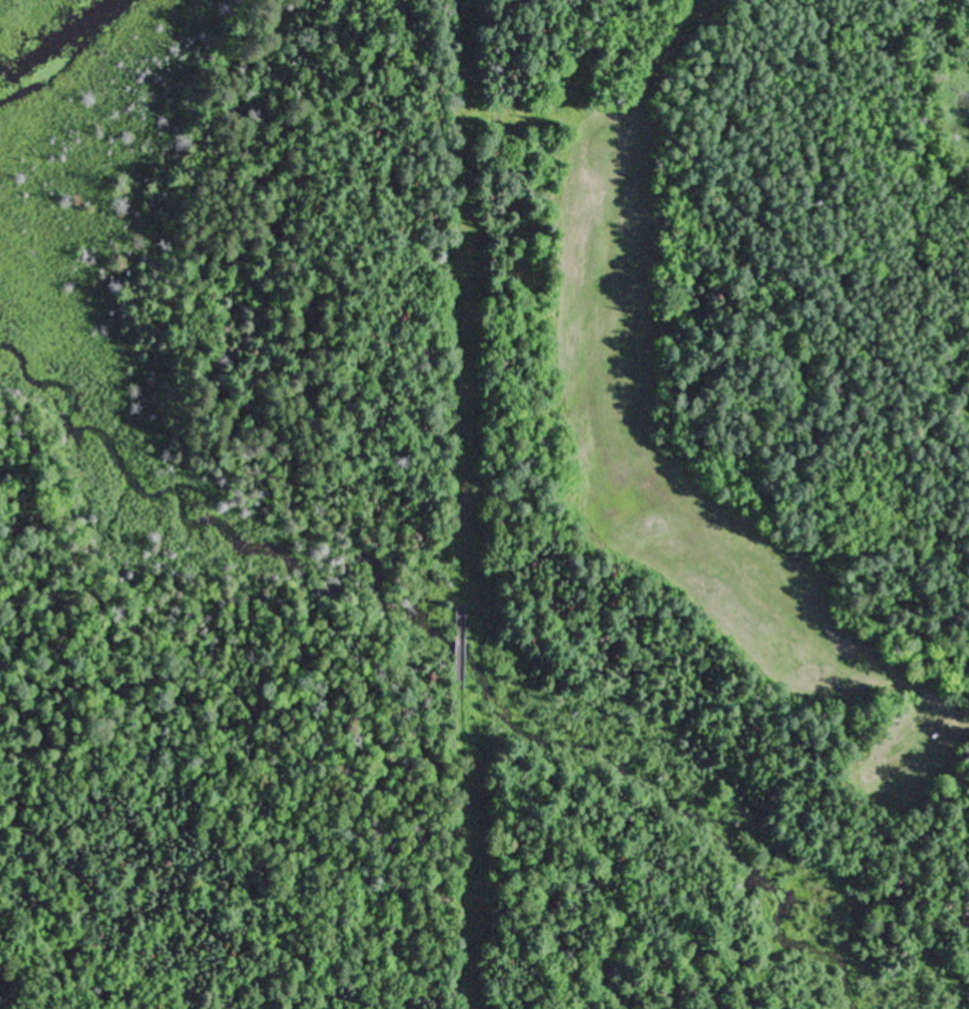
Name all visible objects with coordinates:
park: (771, 368)

